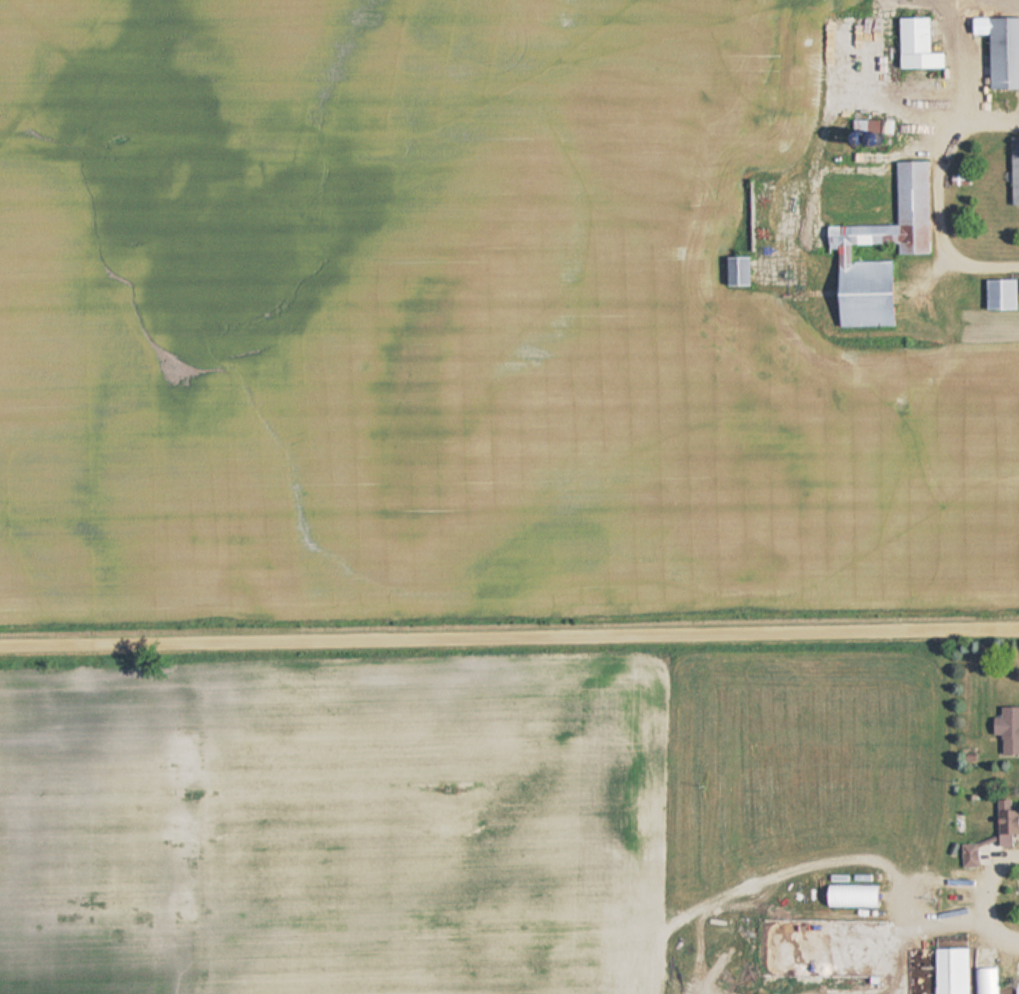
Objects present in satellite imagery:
building: (912, 43)
building: (999, 48)
building: (1013, 178)
building: (874, 234)
building: (732, 270)
building: (997, 293)
road: (509, 638)
building: (1006, 729)
building: (1005, 818)
building: (848, 895)
building: (950, 970)
building: (1016, 987)

